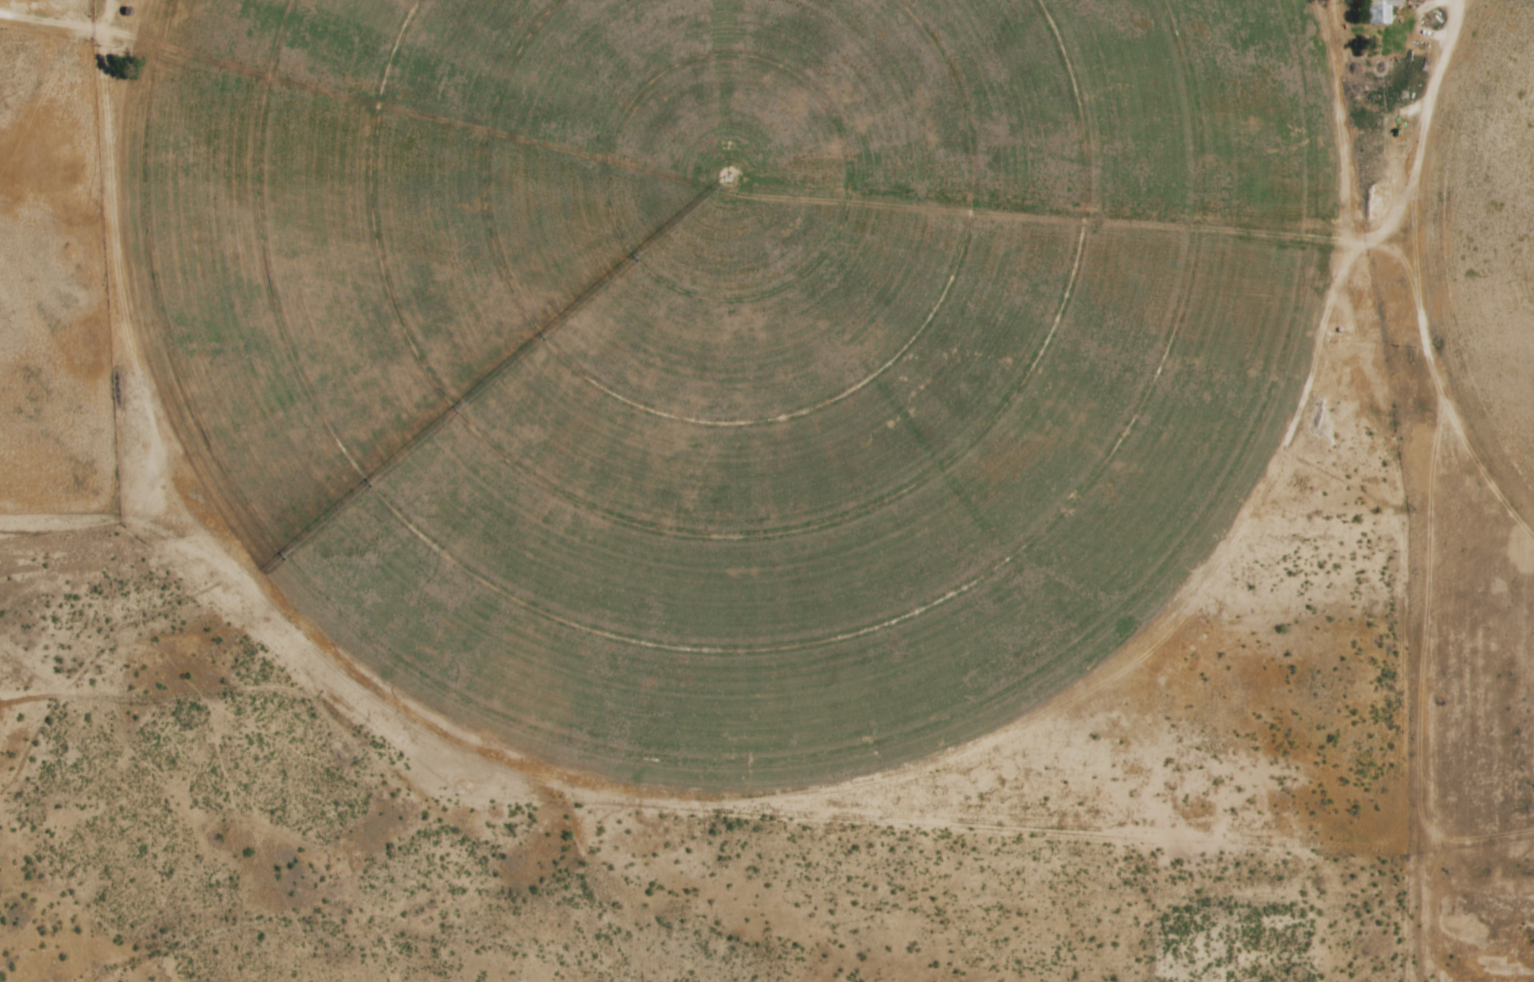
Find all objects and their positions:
road: (1475, 75)

